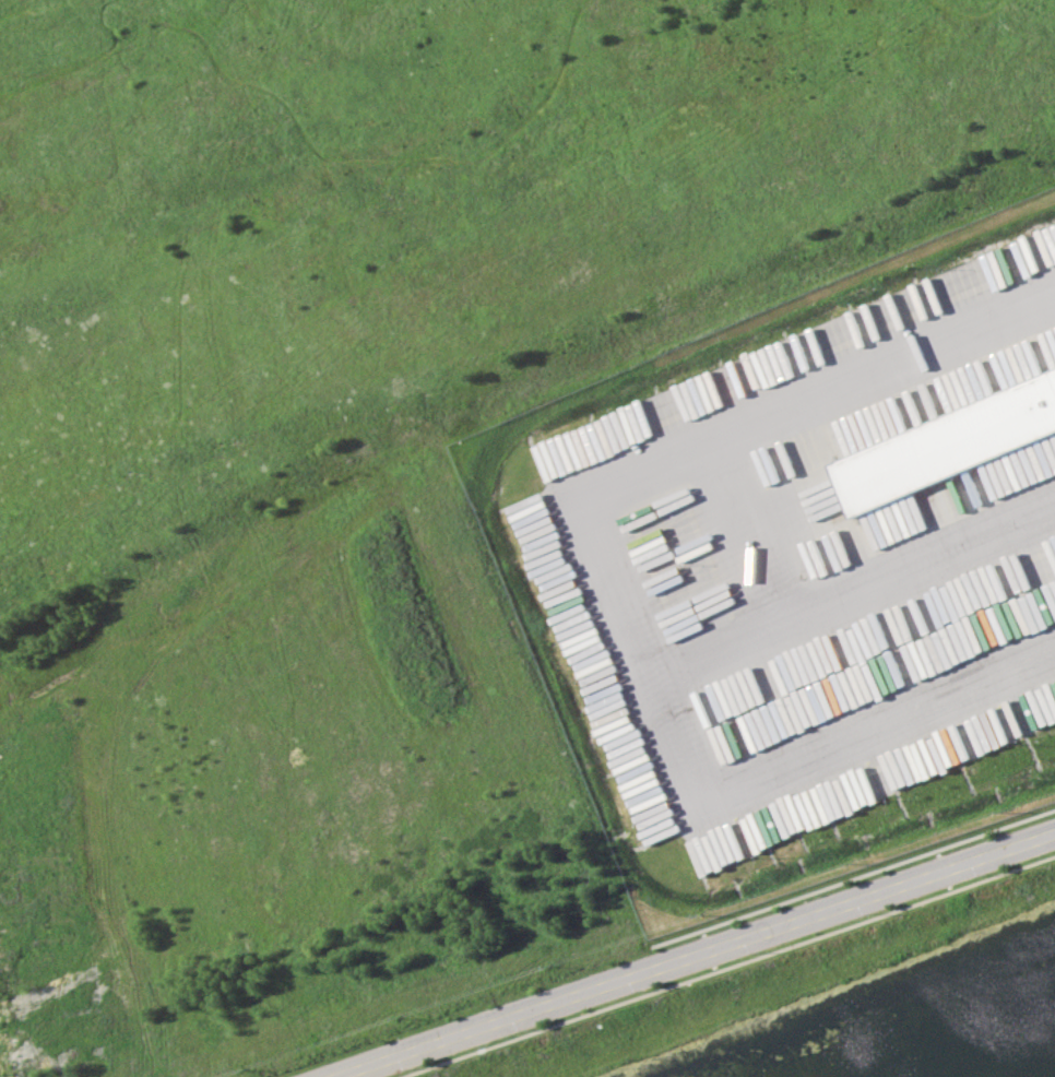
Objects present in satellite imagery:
building: (858, 423)
building: (946, 446)
road: (603, 588)
road: (690, 956)

